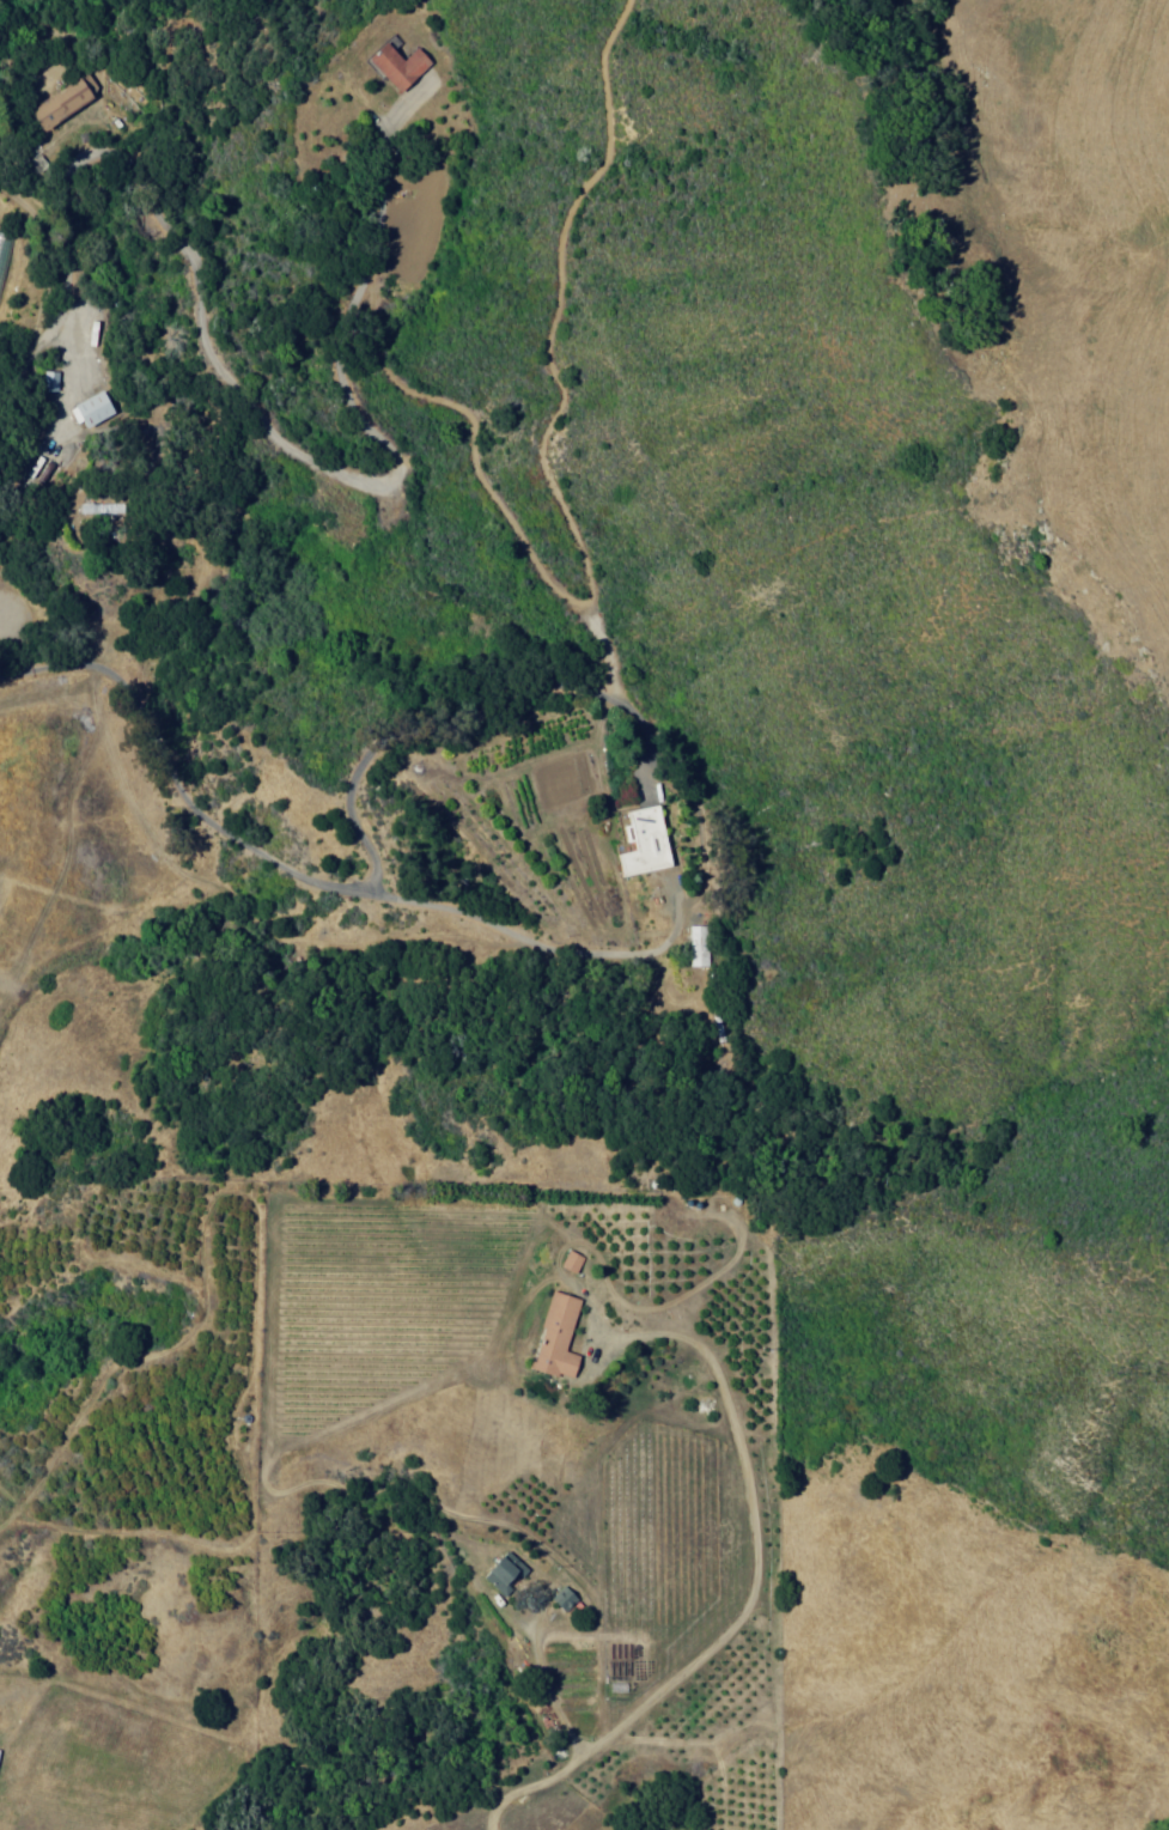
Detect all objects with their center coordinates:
building: (401, 68)
building: (67, 102)
building: (38, 160)
road: (71, 171)
building: (5, 261)
building: (53, 379)
building: (96, 411)
road: (353, 475)
road: (567, 504)
road: (456, 707)
building: (649, 843)
road: (311, 876)
building: (702, 948)
storage tank: (699, 1203)
building: (576, 1260)
building: (561, 1336)
storage tank: (249, 1417)
building: (507, 1573)
road: (748, 1597)
building: (567, 1599)
building: (0, 1756)

